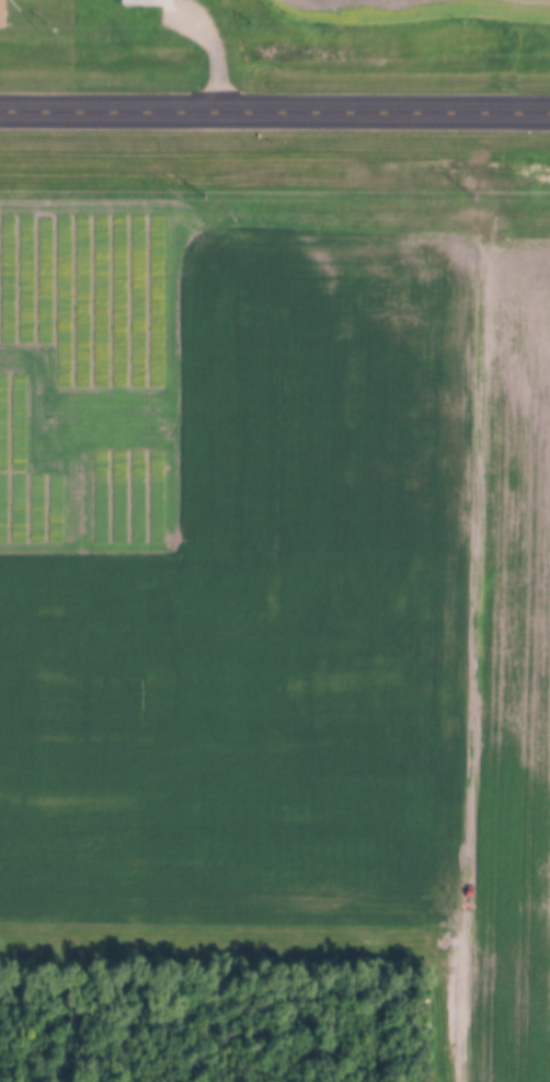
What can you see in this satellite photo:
building: (140, 1)
building: (3, 13)
road: (134, 113)
road: (409, 114)
road: (473, 594)

